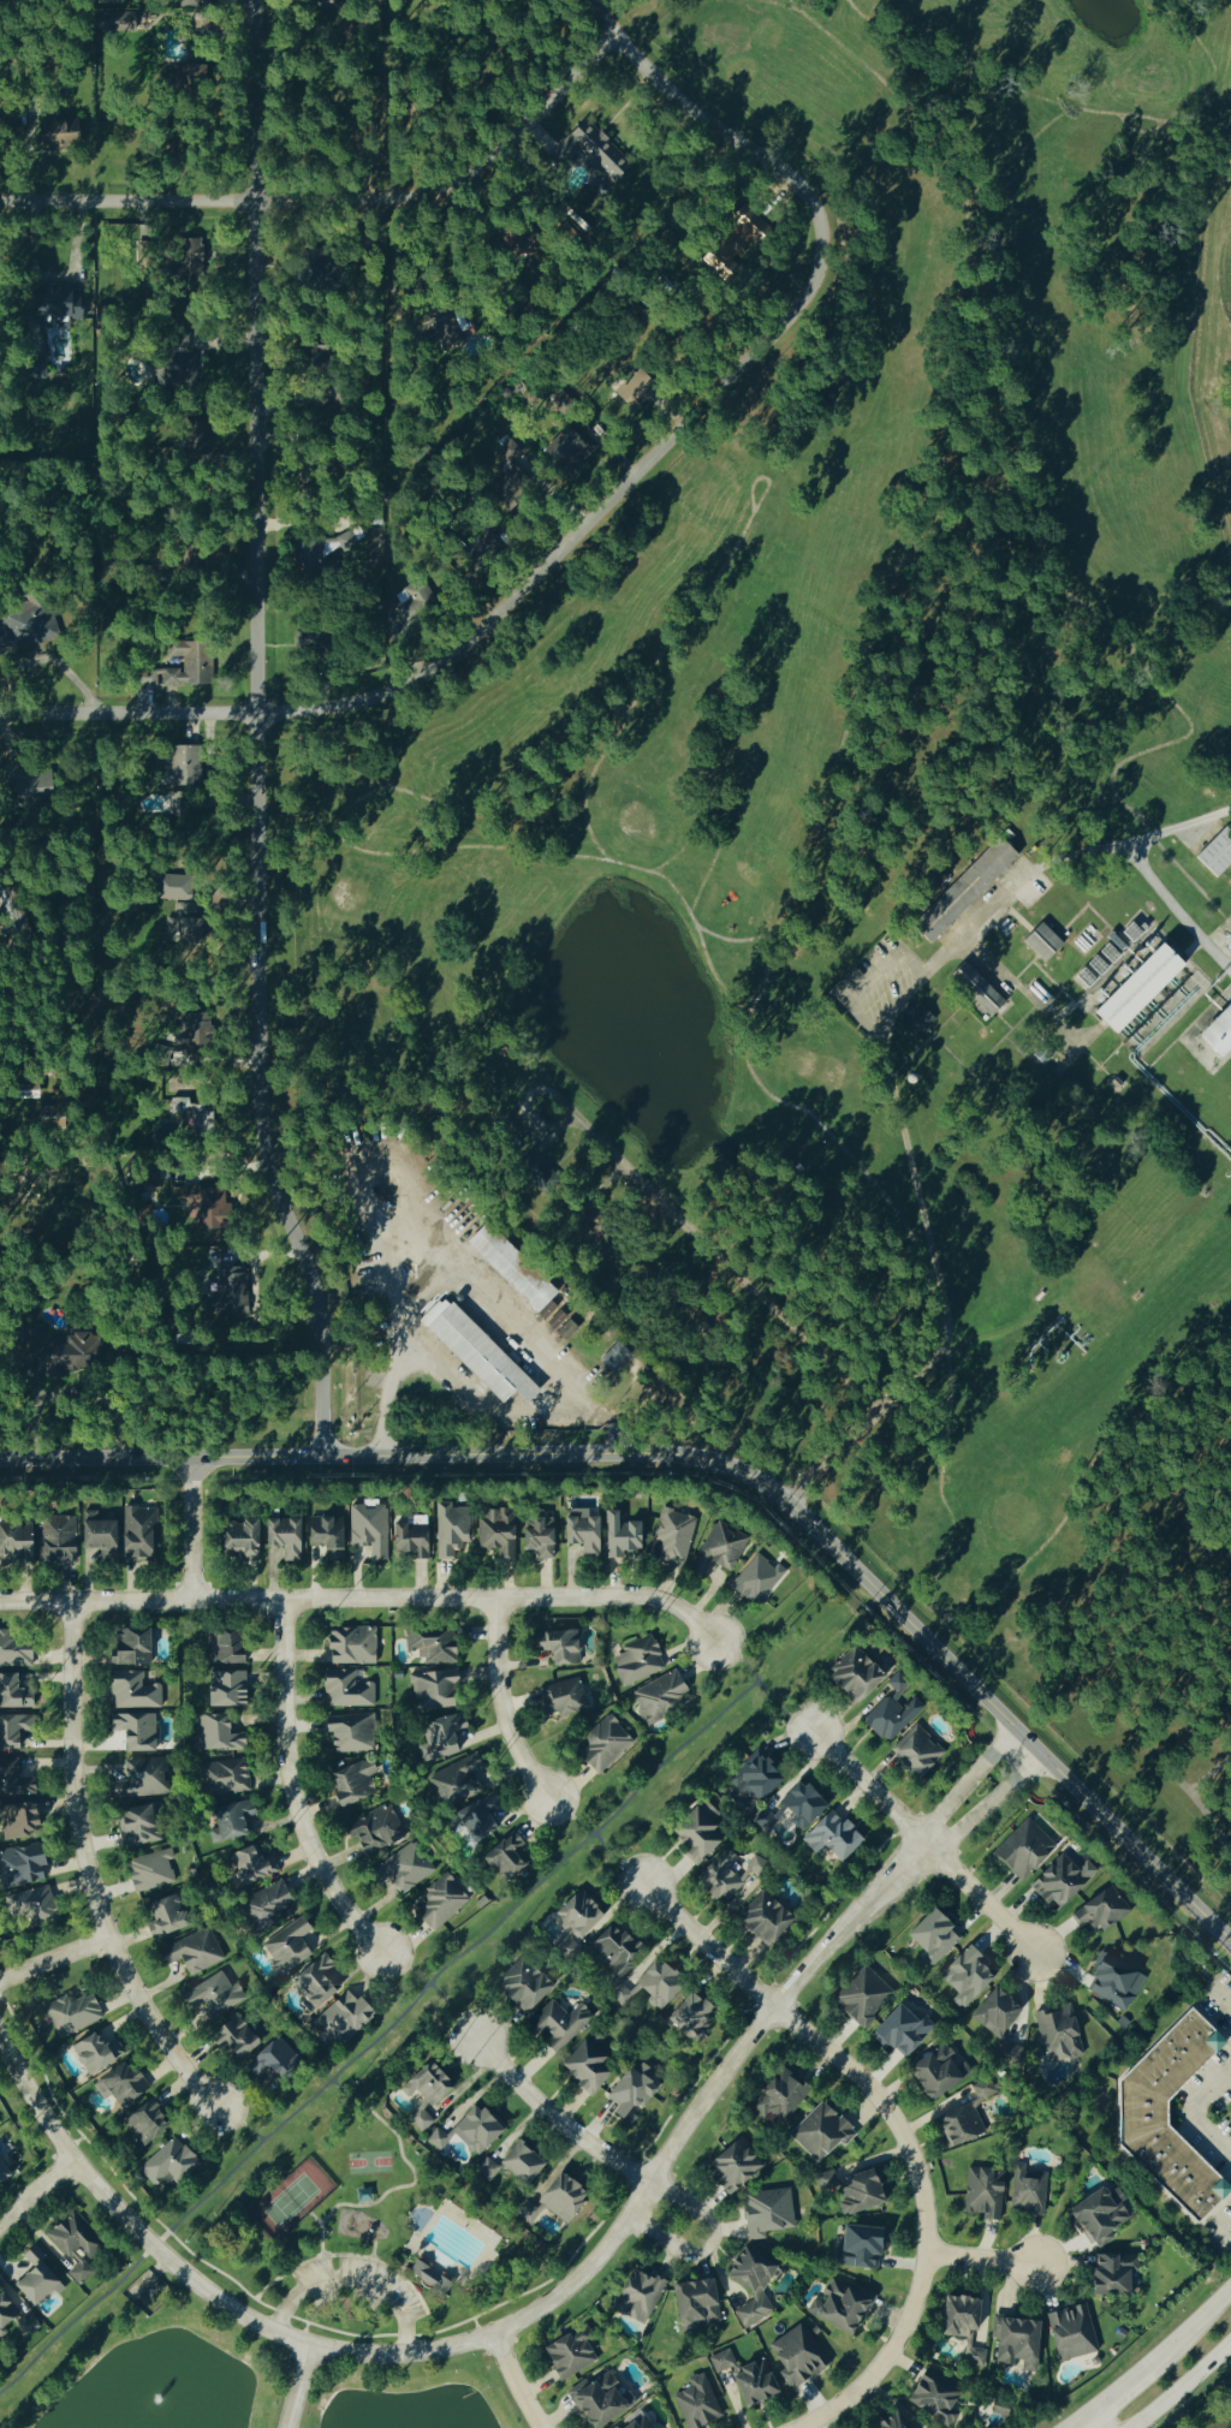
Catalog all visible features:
building: (114, 19)
road: (608, 20)
building: (53, 131)
building: (595, 147)
road: (334, 195)
building: (188, 255)
road: (394, 264)
building: (57, 303)
building: (447, 331)
building: (178, 341)
building: (34, 365)
building: (182, 368)
building: (582, 418)
building: (507, 447)
building: (565, 447)
road: (589, 520)
building: (310, 549)
building: (26, 621)
road: (50, 660)
building: (195, 661)
road: (262, 732)
building: (177, 763)
building: (30, 781)
road: (1137, 835)
building: (1214, 849)
building: (171, 886)
building: (963, 888)
road: (1162, 891)
building: (1040, 940)
road: (964, 944)
building: (1094, 965)
road: (875, 971)
building: (975, 987)
building: (1134, 988)
building: (915, 1017)
building: (1215, 1030)
building: (210, 1204)
building: (519, 1266)
building: (232, 1277)
road: (945, 1309)
building: (478, 1356)
road: (465, 1388)
road: (709, 1463)
road: (191, 1529)
building: (450, 1530)
building: (367, 1531)
building: (322, 1533)
building: (494, 1534)
building: (597, 1534)
building: (96, 1535)
building: (137, 1535)
building: (280, 1537)
building: (239, 1539)
building: (535, 1540)
building: (408, 1541)
building: (36, 1542)
building: (694, 1545)
building: (754, 1579)
road: (365, 1597)
building: (349, 1647)
building: (429, 1647)
building: (558, 1648)
building: (126, 1649)
building: (636, 1661)
building: (851, 1680)
building: (430, 1688)
road: (762, 1688)
building: (224, 1690)
building: (344, 1690)
building: (132, 1695)
road: (502, 1701)
building: (607, 1715)
building: (890, 1715)
building: (132, 1732)
building: (347, 1733)
building: (439, 1736)
building: (916, 1754)
building: (759, 1781)
road: (964, 1783)
road: (299, 1784)
building: (453, 1787)
road: (987, 1803)
building: (362, 1808)
road: (569, 1814)
building: (475, 1822)
road: (1214, 1822)
building: (815, 1823)
building: (224, 1831)
building: (692, 1835)
road: (923, 1843)
building: (142, 1851)
building: (1022, 1851)
road: (618, 1857)
building: (501, 1861)
building: (18, 1867)
road: (85, 1871)
building: (1059, 1882)
building: (417, 1885)
building: (257, 1890)
building: (1098, 1914)
building: (573, 1916)
building: (163, 1917)
building: (760, 1918)
building: (930, 1938)
road: (709, 1944)
building: (189, 1950)
road: (53, 1960)
road: (403, 1968)
building: (964, 1977)
building: (1112, 1983)
building: (518, 1988)
building: (862, 1998)
building: (998, 2005)
building: (672, 2006)
road: (454, 2009)
building: (340, 2017)
building: (902, 2031)
road: (379, 2034)
building: (1055, 2035)
building: (94, 2054)
building: (582, 2069)
building: (932, 2073)
building: (424, 2085)
building: (118, 2087)
building: (629, 2090)
road: (1187, 2111)
building: (1138, 2112)
road: (239, 2121)
building: (416, 2123)
building: (468, 2131)
building: (817, 2134)
road: (73, 2143)
building: (170, 2144)
building: (518, 2165)
building: (735, 2165)
road: (637, 2168)
building: (1, 2176)
road: (411, 2182)
road: (35, 2190)
building: (856, 2194)
building: (1004, 2194)
park: (290, 2198)
building: (552, 2201)
building: (765, 2212)
road: (923, 2213)
road: (314, 2216)
building: (1096, 2218)
park: (367, 2238)
building: (72, 2245)
building: (858, 2245)
road: (373, 2248)
road: (346, 2254)
road: (981, 2257)
building: (1108, 2275)
road: (392, 2277)
building: (30, 2278)
road: (352, 2278)
building: (430, 2280)
building: (751, 2281)
parking lot: (356, 2284)
building: (636, 2296)
building: (696, 2305)
building: (838, 2307)
road: (284, 2311)
building: (14, 2320)
road: (505, 2323)
road: (476, 2326)
building: (958, 2326)
road: (1191, 2328)
road: (304, 2329)
building: (1070, 2332)
building: (1016, 2341)
building: (566, 2353)
building: (795, 2355)
building: (743, 2379)
road: (513, 2380)
road: (298, 2385)
road: (1181, 2385)
road: (1119, 2391)
building: (933, 2399)
building: (597, 2400)
building: (698, 2402)
fountain: (156, 2404)
building: (636, 2422)
building: (891, 2422)
road: (1078, 2422)
road: (1090, 2422)

